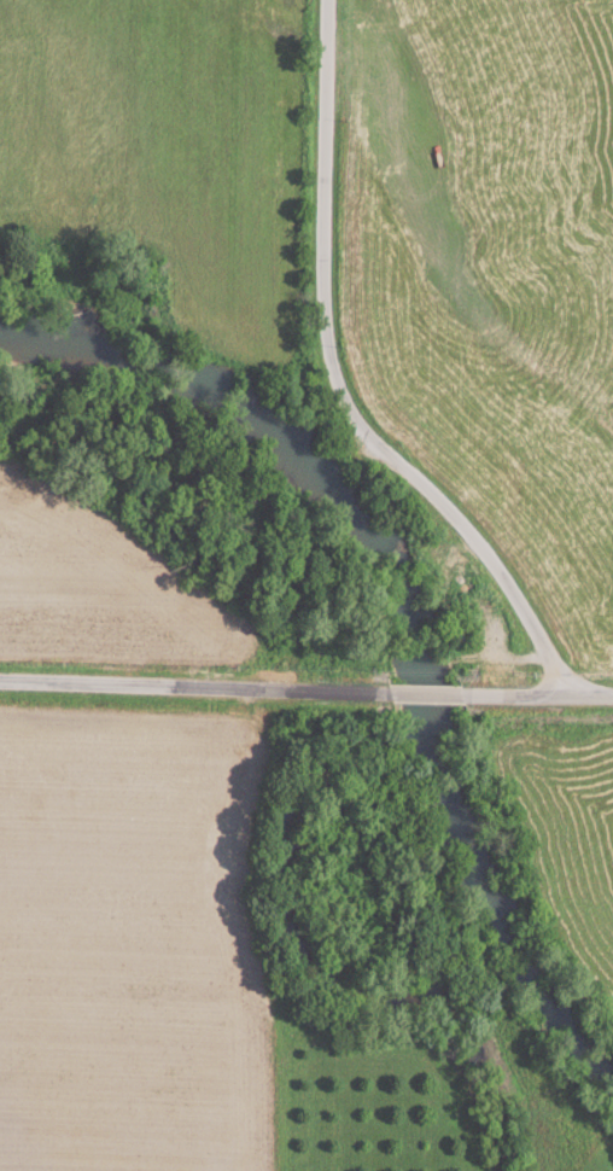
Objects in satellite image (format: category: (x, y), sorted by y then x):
road: (320, 226)
road: (498, 571)
road: (191, 683)
road: (425, 691)
road: (518, 693)

